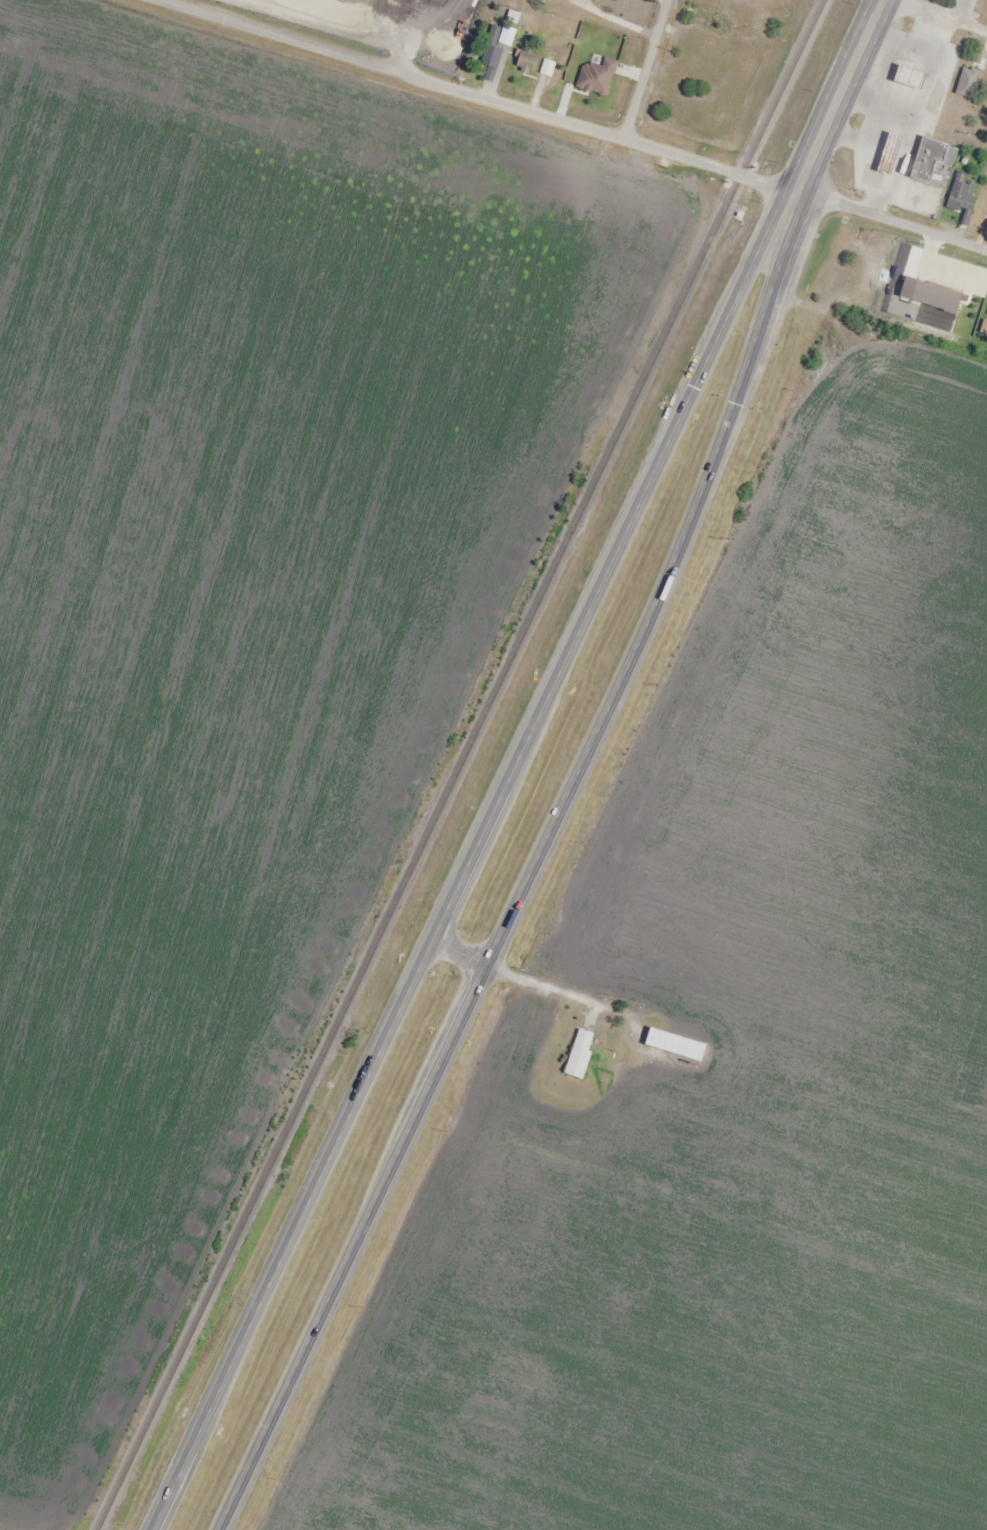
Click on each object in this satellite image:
road: (939, 15)
building: (494, 49)
road: (644, 70)
building: (912, 78)
road: (473, 95)
road: (831, 111)
building: (891, 154)
road: (891, 223)
building: (986, 315)
crop: (239, 607)
railway: (459, 765)
road: (466, 874)
road: (527, 885)
road: (463, 953)
building: (671, 1044)
building: (577, 1053)
crop: (741, 1067)

